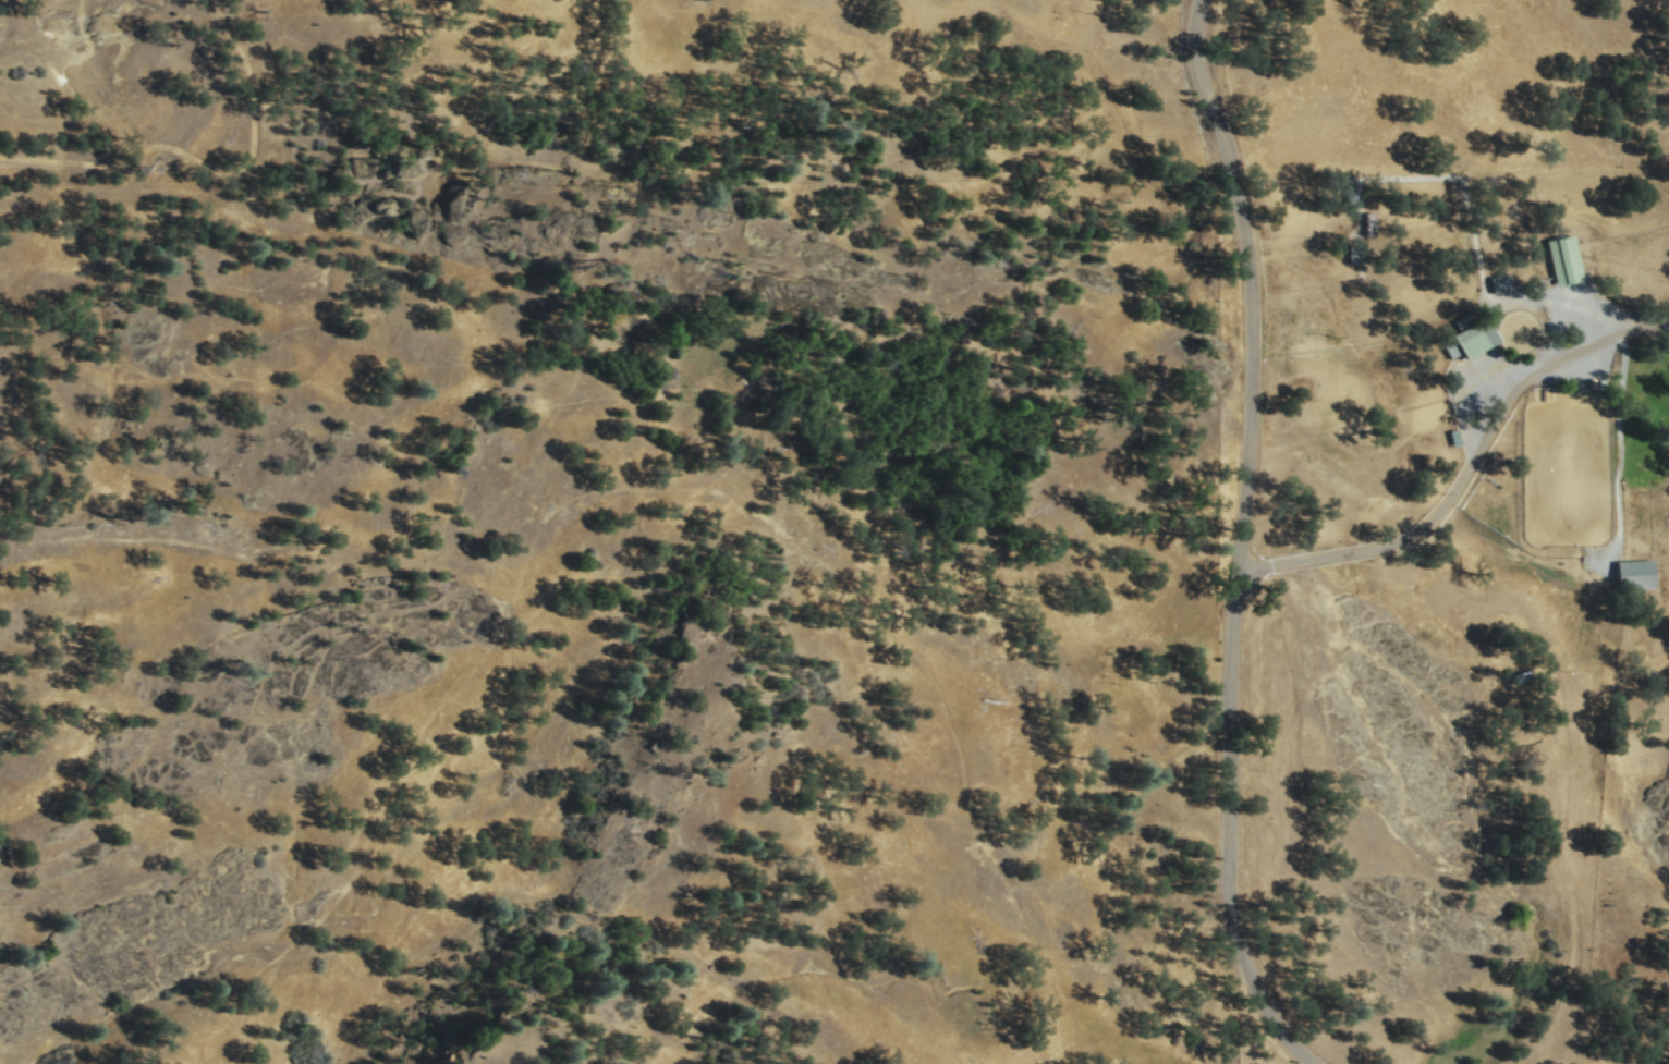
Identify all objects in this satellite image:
road: (206, 162)
road: (1465, 199)
building: (1368, 221)
building: (1562, 257)
road: (1250, 281)
building: (1498, 282)
road: (1655, 318)
road: (1655, 330)
building: (1474, 335)
road: (1617, 447)
park: (1564, 466)
road: (1458, 478)
building: (1633, 573)
road: (1236, 830)

